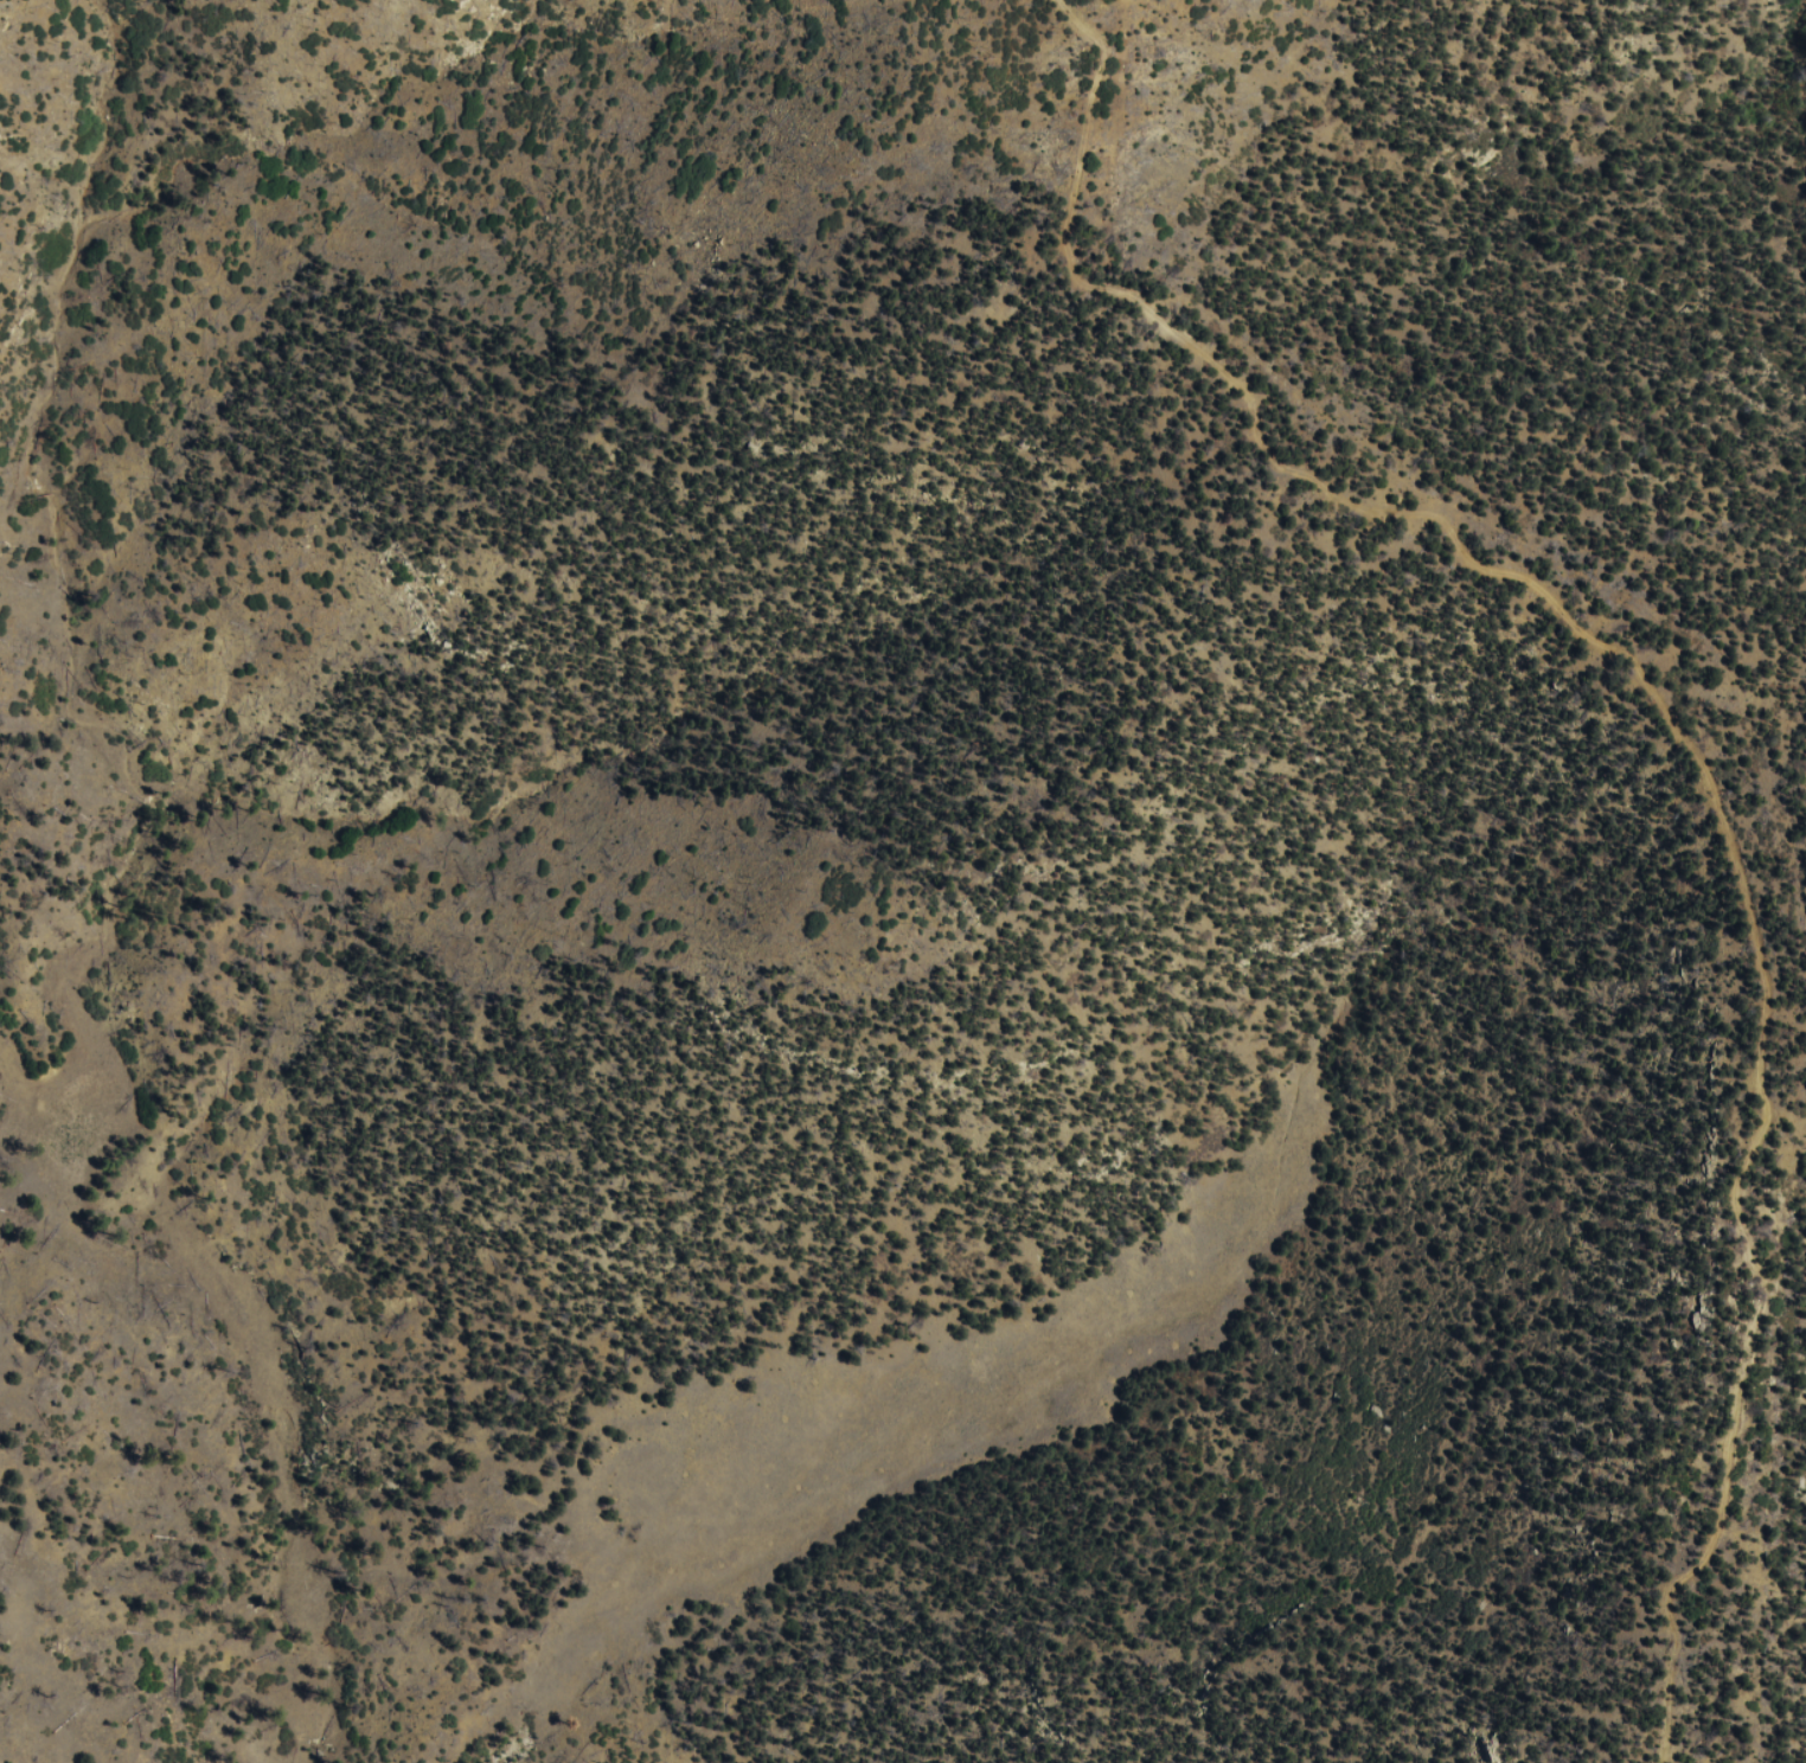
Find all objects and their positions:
road: (1677, 729)

